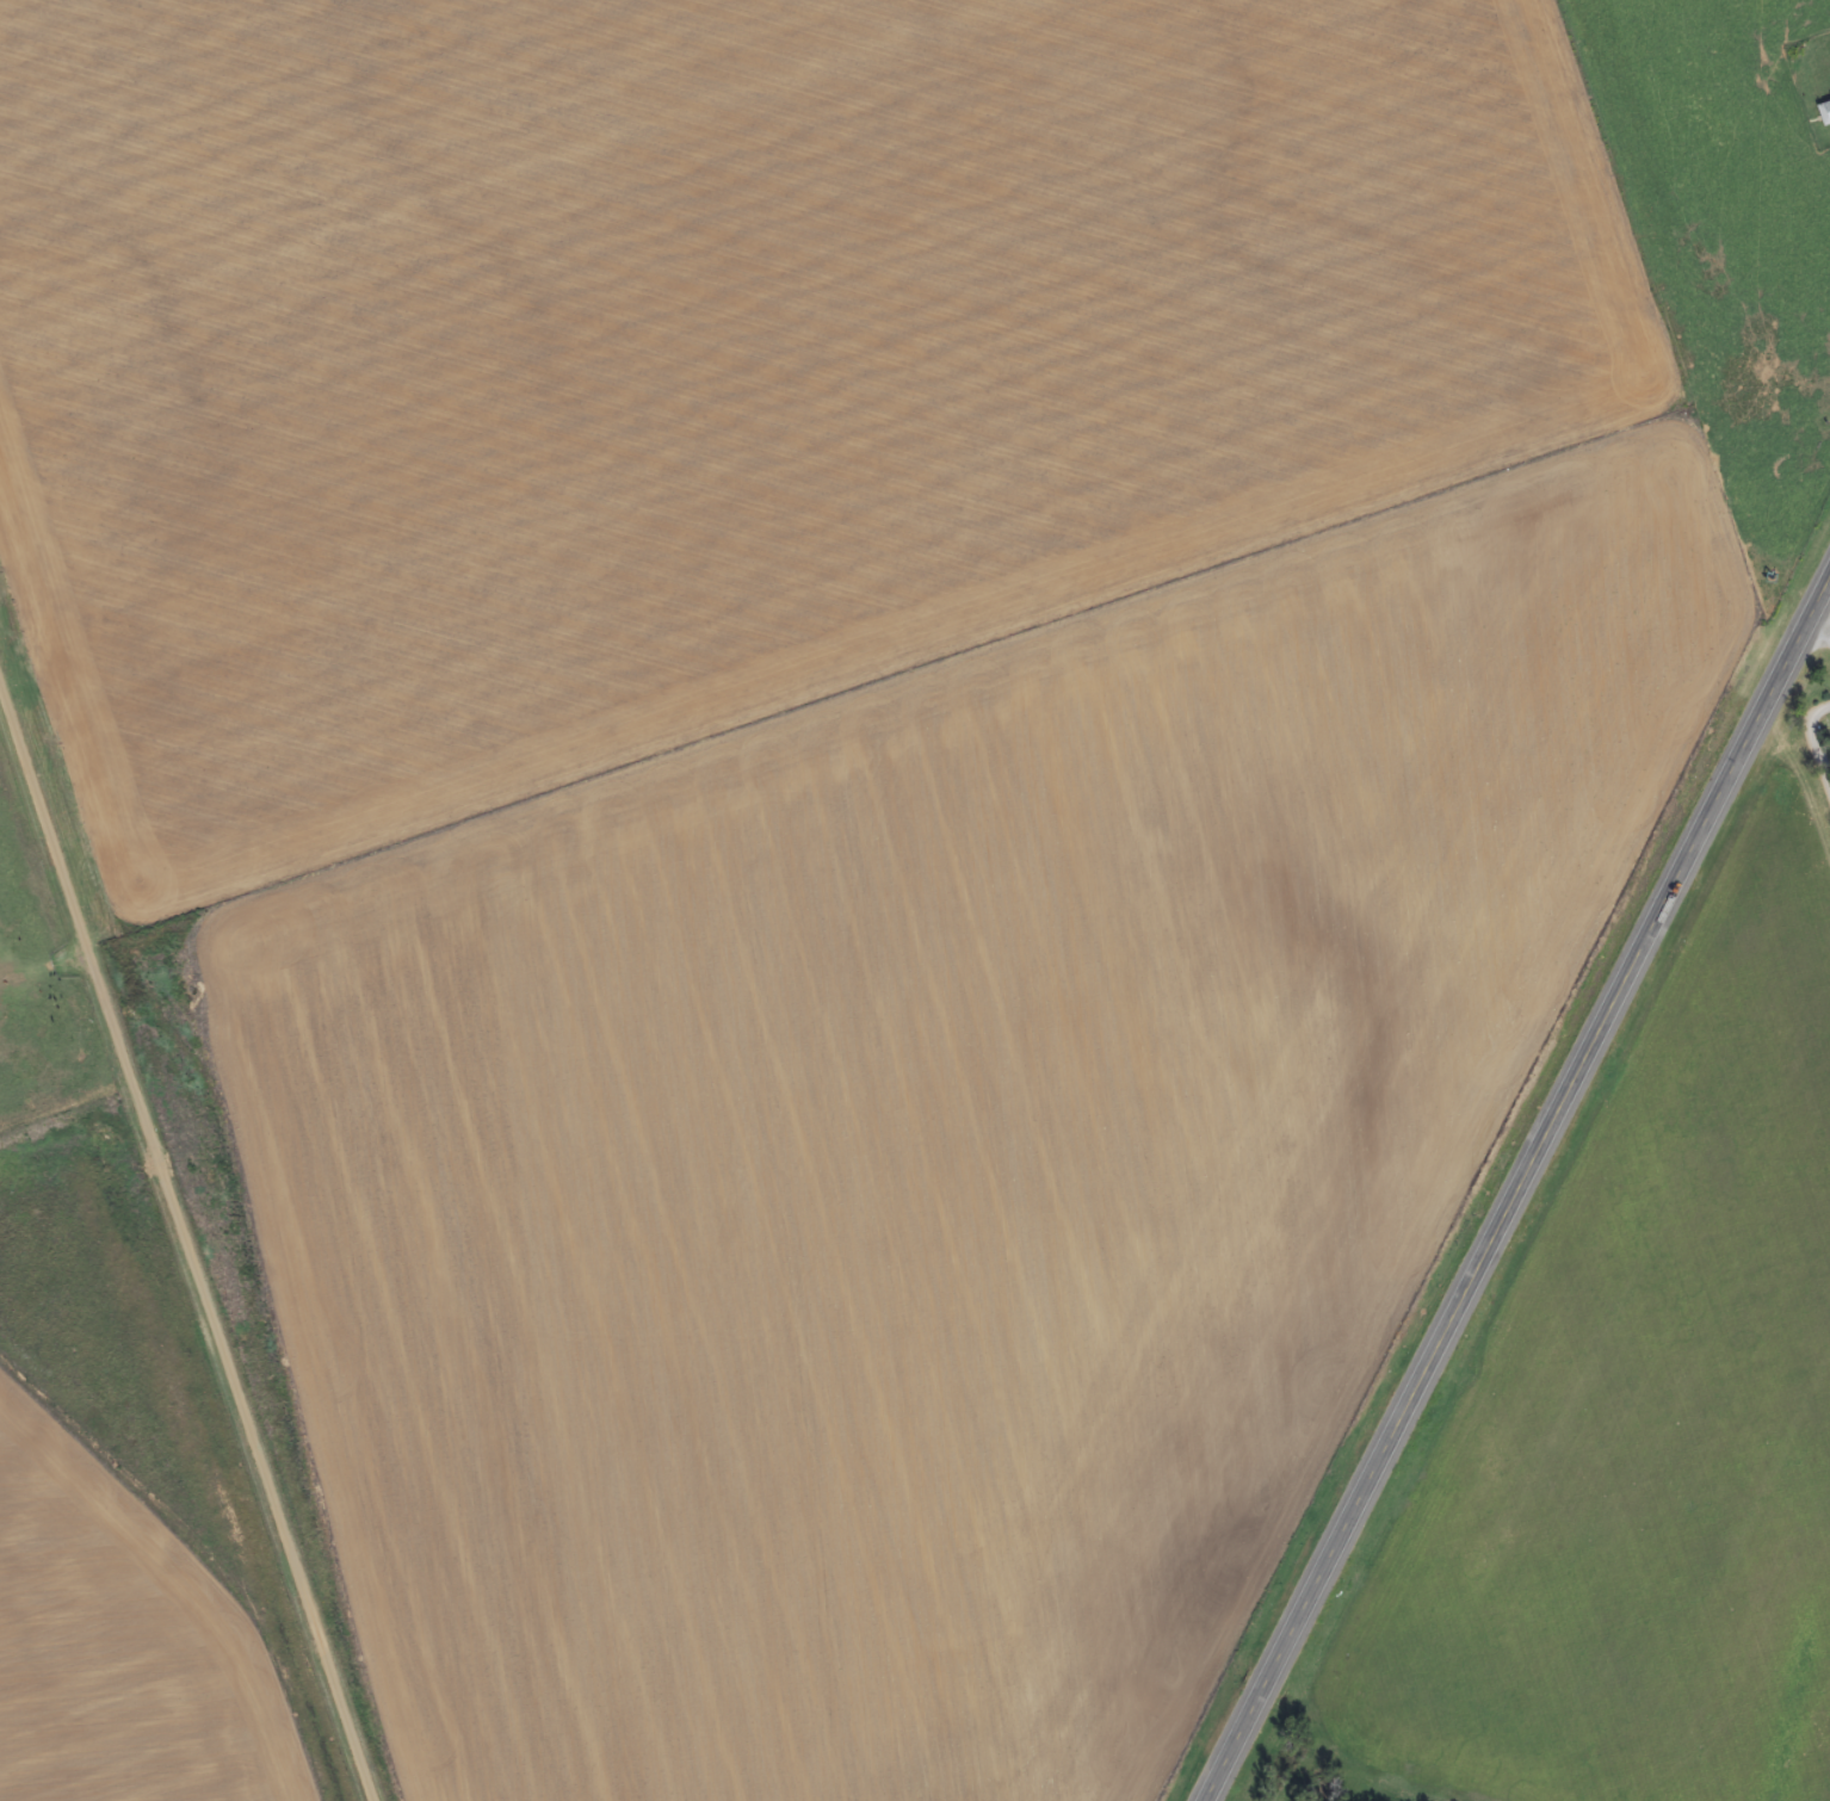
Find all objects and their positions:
building: (1825, 113)
road: (1826, 594)
road: (1824, 723)
park: (1819, 736)
road: (1824, 741)
road: (1516, 1189)
road: (188, 1234)

